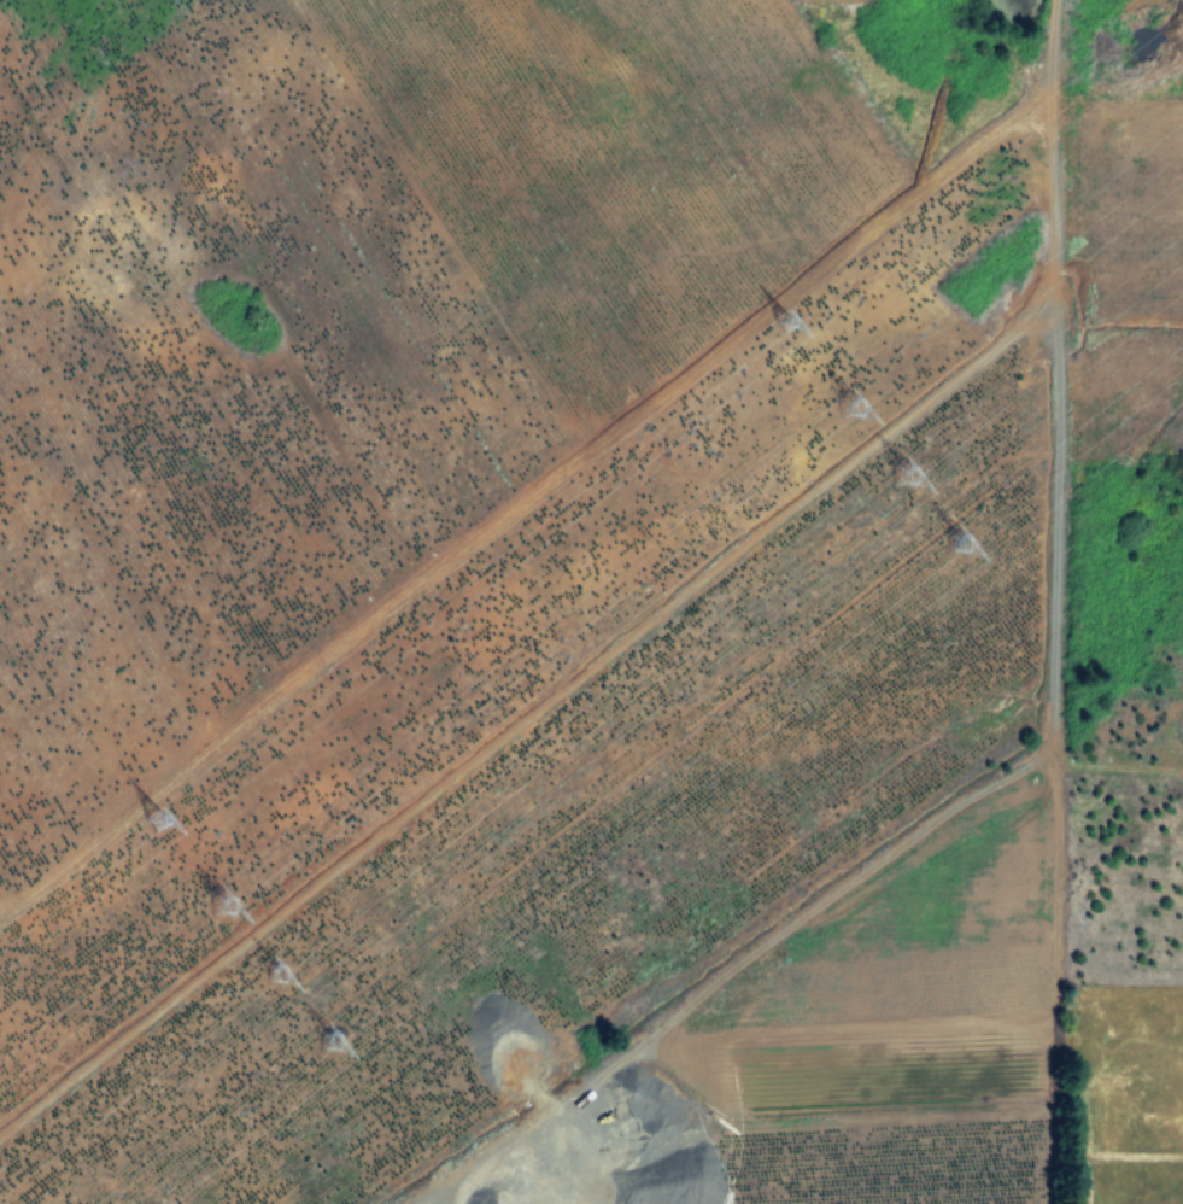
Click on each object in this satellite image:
power tower: (787, 315)
power tower: (851, 402)
power tower: (910, 473)
power tower: (964, 539)
crop: (591, 602)
road: (1047, 699)
road: (531, 718)
power tower: (159, 811)
power tower: (226, 896)
power tower: (281, 966)
power tower: (332, 1038)

